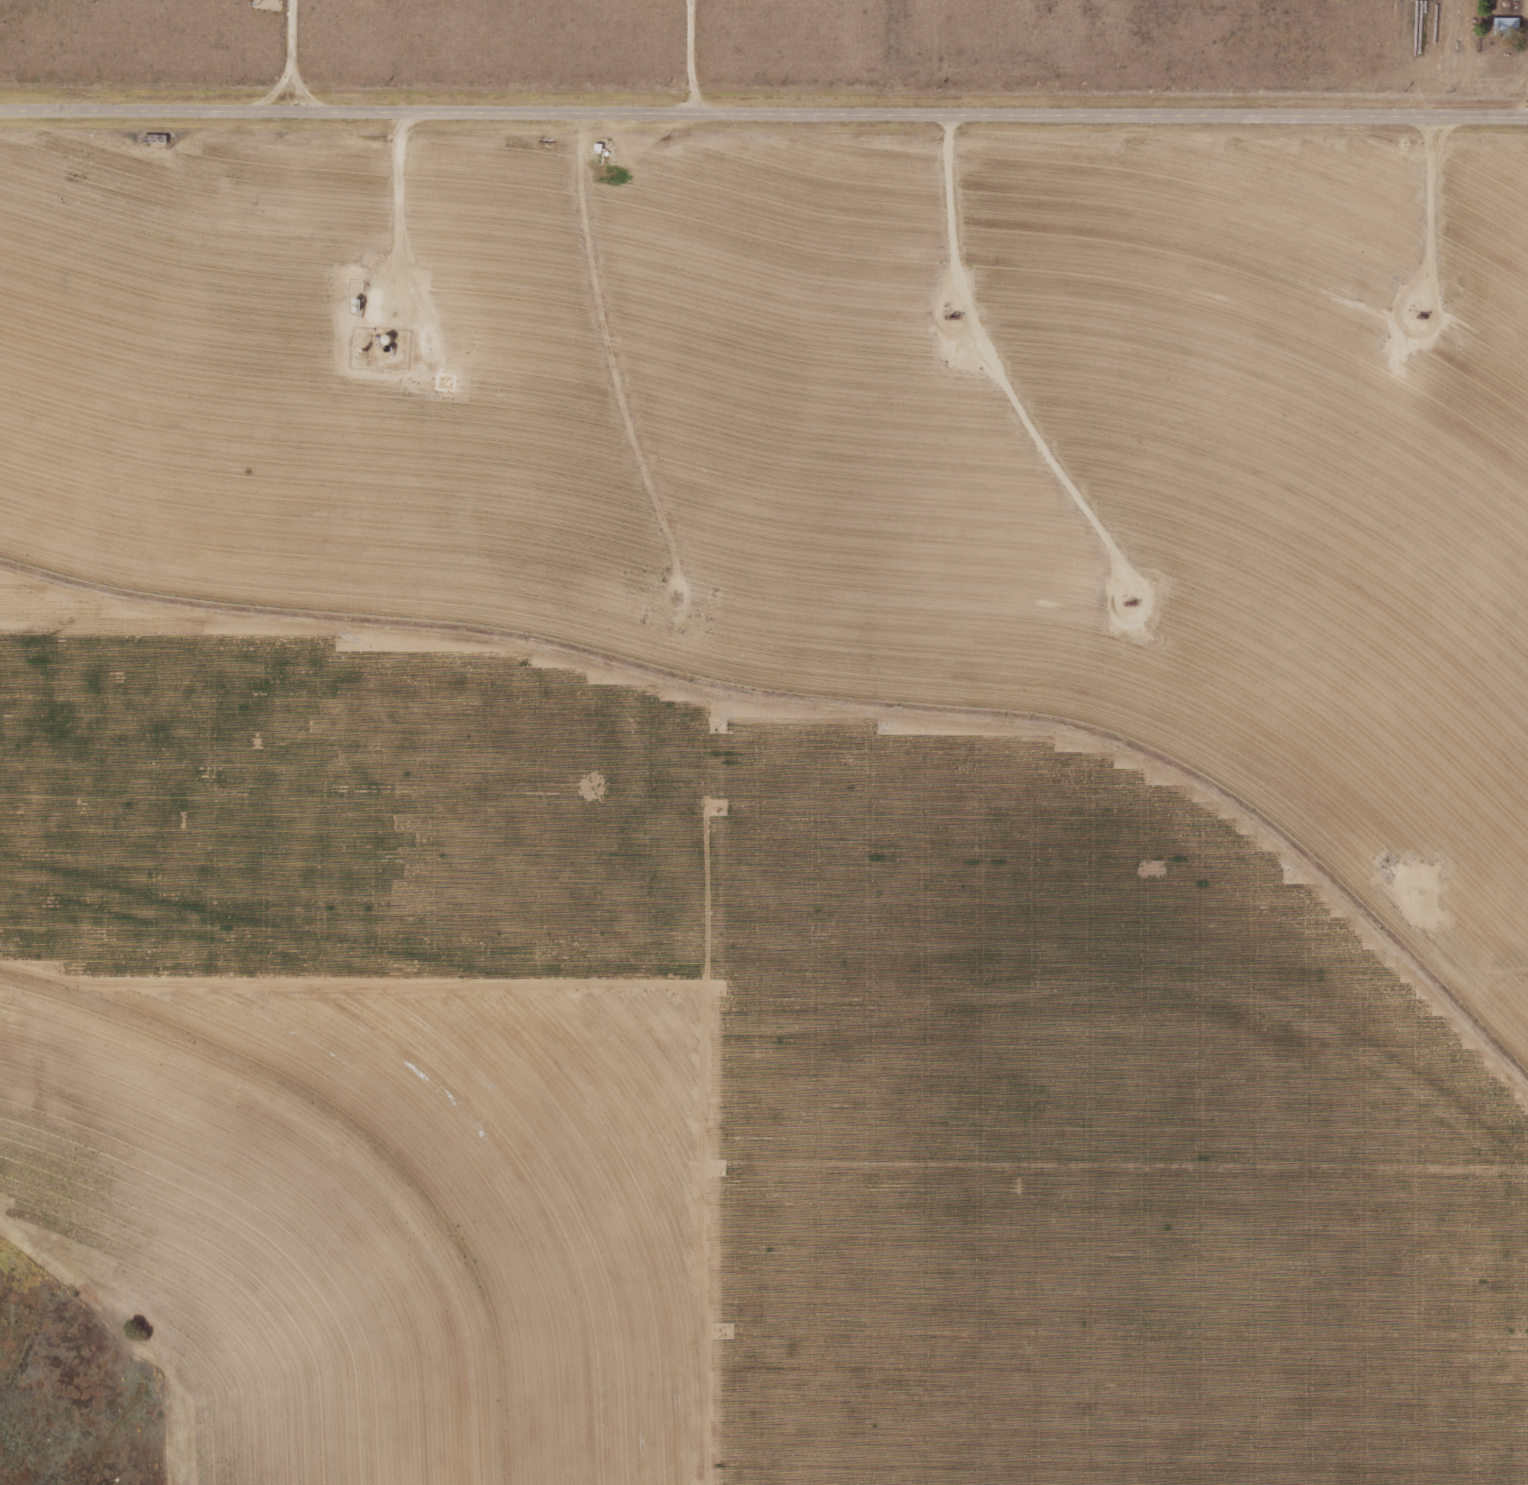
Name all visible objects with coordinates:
road: (763, 120)

